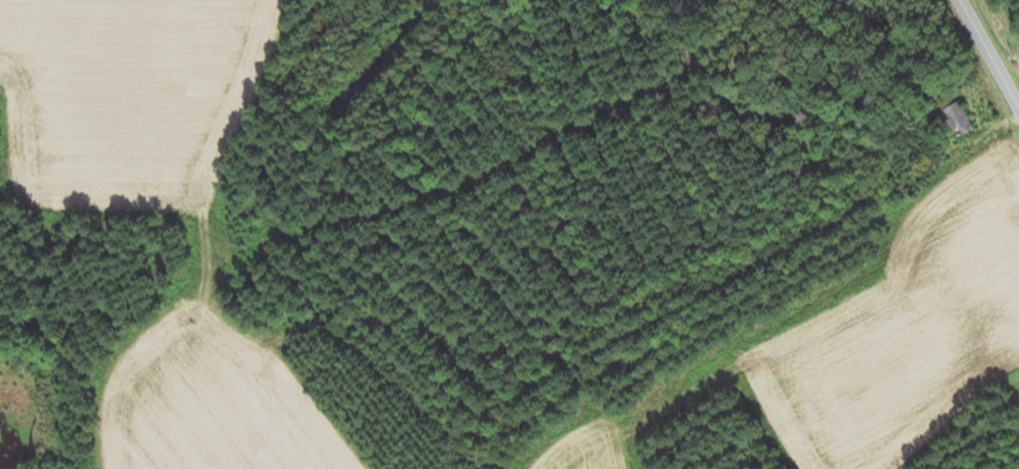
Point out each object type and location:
road: (698, 13)
road: (988, 54)
building: (958, 120)

